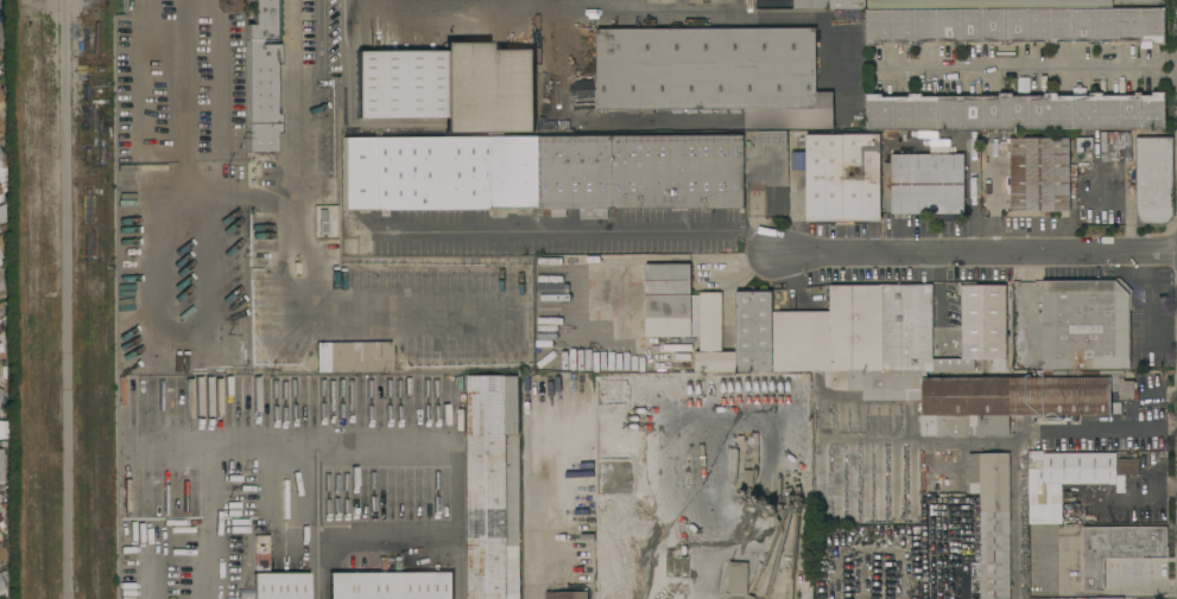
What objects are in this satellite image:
building: (663, 0)
building: (810, 4)
building: (1008, 4)
building: (846, 5)
building: (1014, 25)
road: (1032, 68)
building: (705, 69)
building: (260, 78)
building: (450, 87)
road: (295, 91)
building: (0, 97)
building: (0, 104)
building: (1015, 111)
building: (0, 129)
building: (770, 141)
building: (1083, 145)
road: (188, 152)
building: (1, 160)
building: (0, 166)
building: (543, 173)
building: (1038, 174)
building: (842, 178)
building: (1153, 180)
building: (923, 184)
building: (0, 199)
building: (791, 199)
building: (1, 216)
building: (1, 227)
road: (974, 254)
building: (0, 261)
building: (0, 288)
building: (551, 288)
building: (1026, 289)
building: (669, 300)
building: (1084, 324)
building: (979, 330)
building: (858, 331)
building: (752, 332)
building: (710, 338)
building: (0, 349)
building: (353, 357)
building: (1, 391)
building: (1002, 397)
building: (1, 432)
road: (1004, 440)
road: (232, 441)
building: (752, 447)
building: (0, 465)
building: (733, 465)
building: (1080, 466)
building: (492, 488)
road: (1133, 496)
building: (992, 521)
building: (1118, 549)
building: (0, 556)
building: (274, 575)
building: (736, 578)
road: (1148, 584)
building: (390, 585)
building: (0, 588)
building: (567, 594)
building: (1040, 598)
building: (1108, 598)

